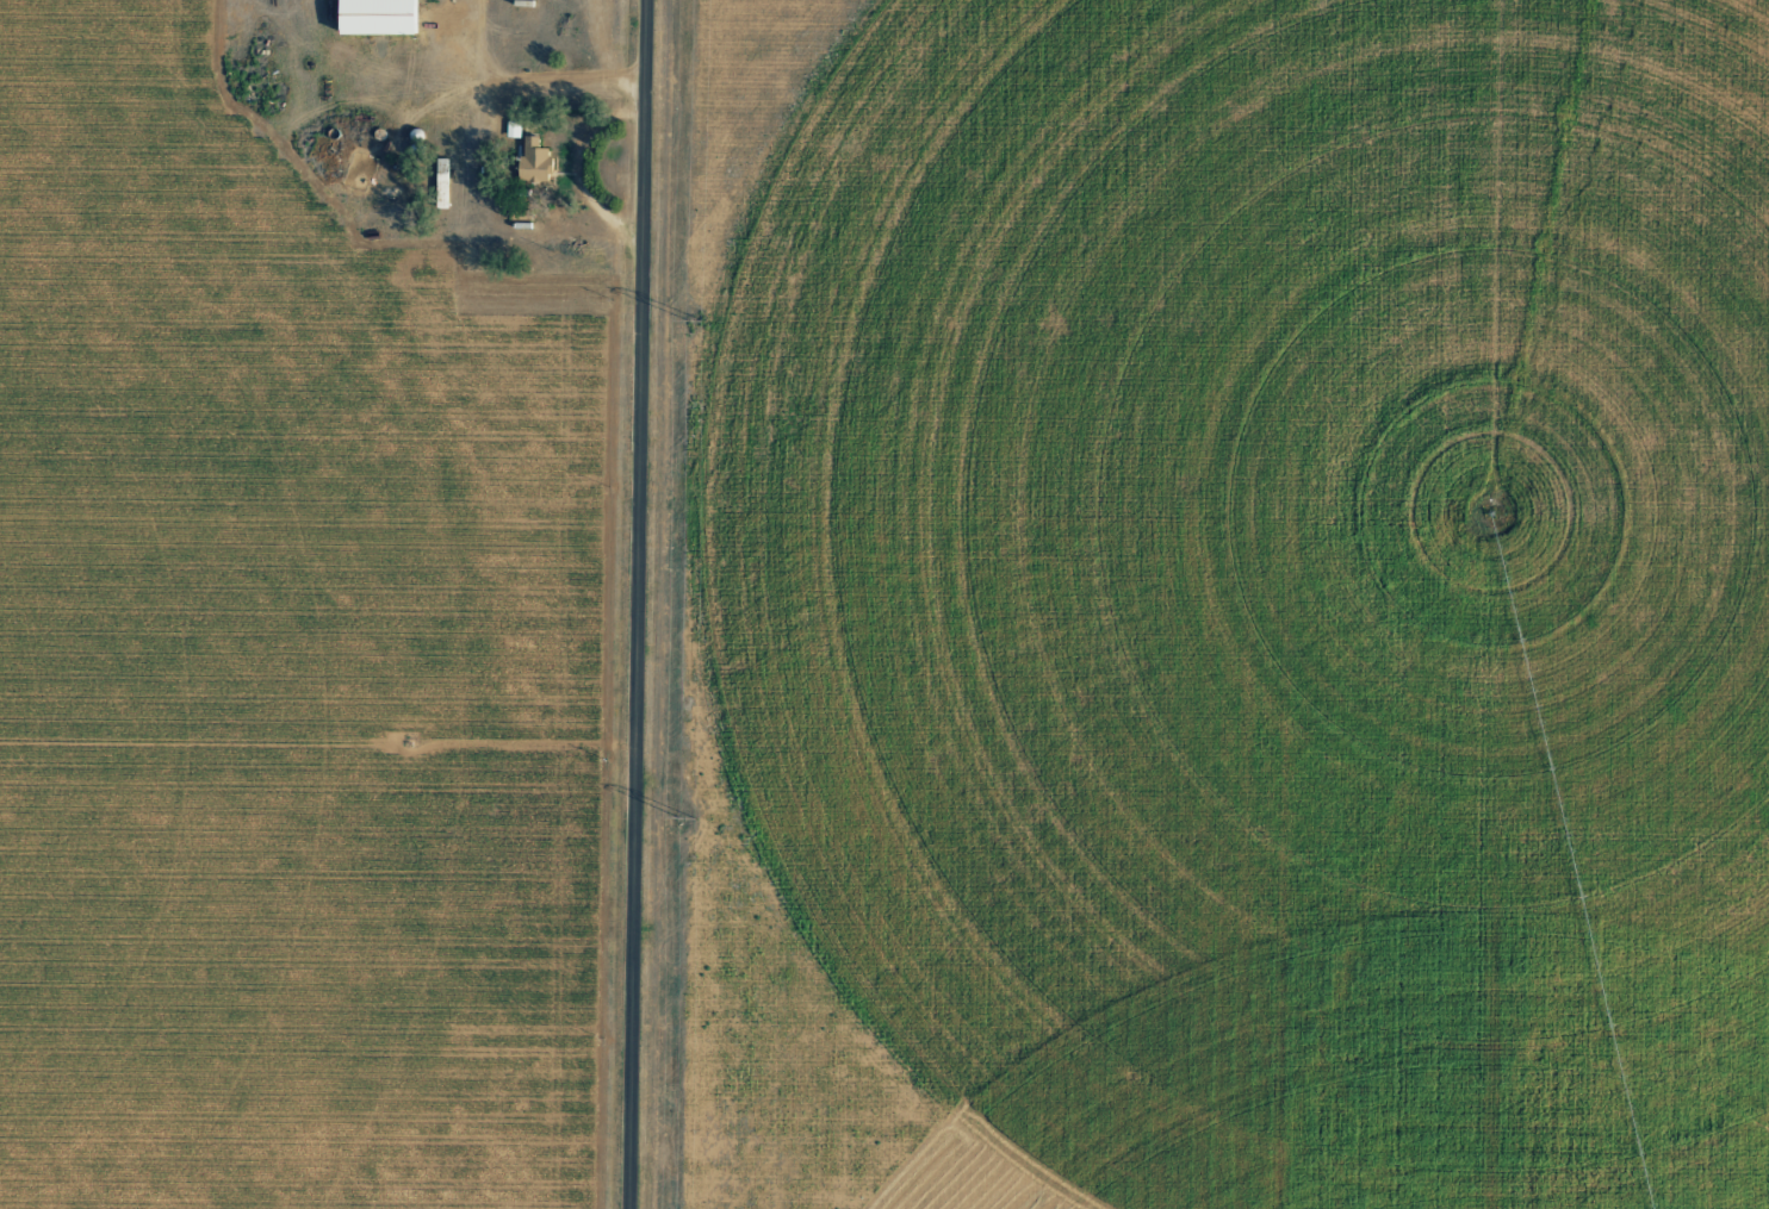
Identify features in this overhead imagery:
building: (377, 15)
building: (534, 158)
power tower: (694, 316)
road: (651, 604)
power tower: (688, 817)

